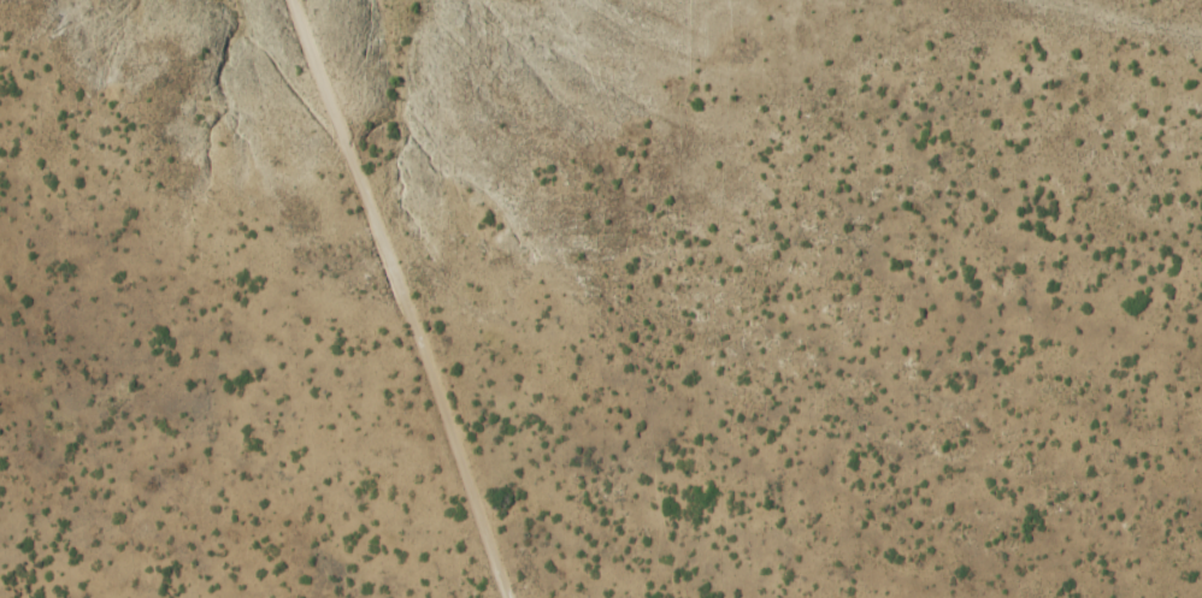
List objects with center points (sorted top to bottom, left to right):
road: (422, 298)

